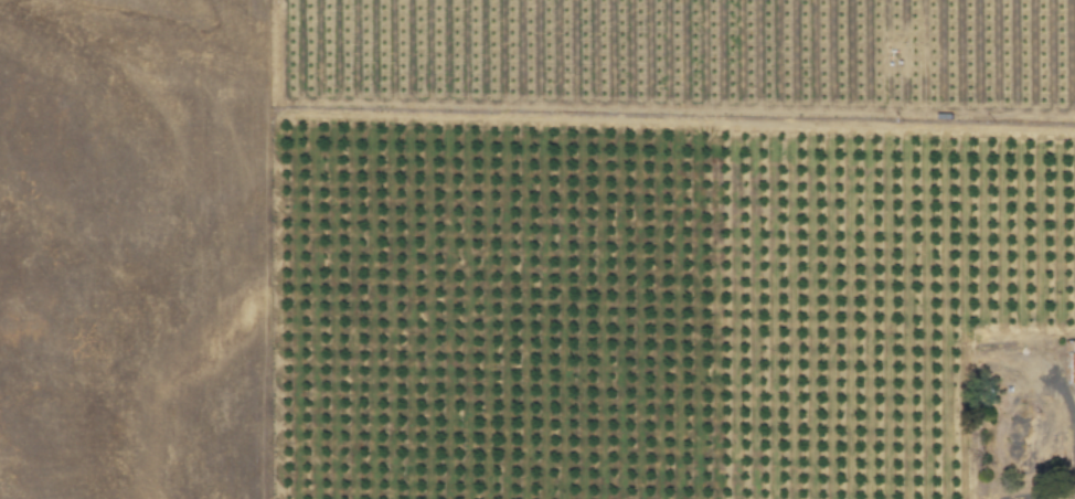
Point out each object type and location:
building: (1069, 362)

